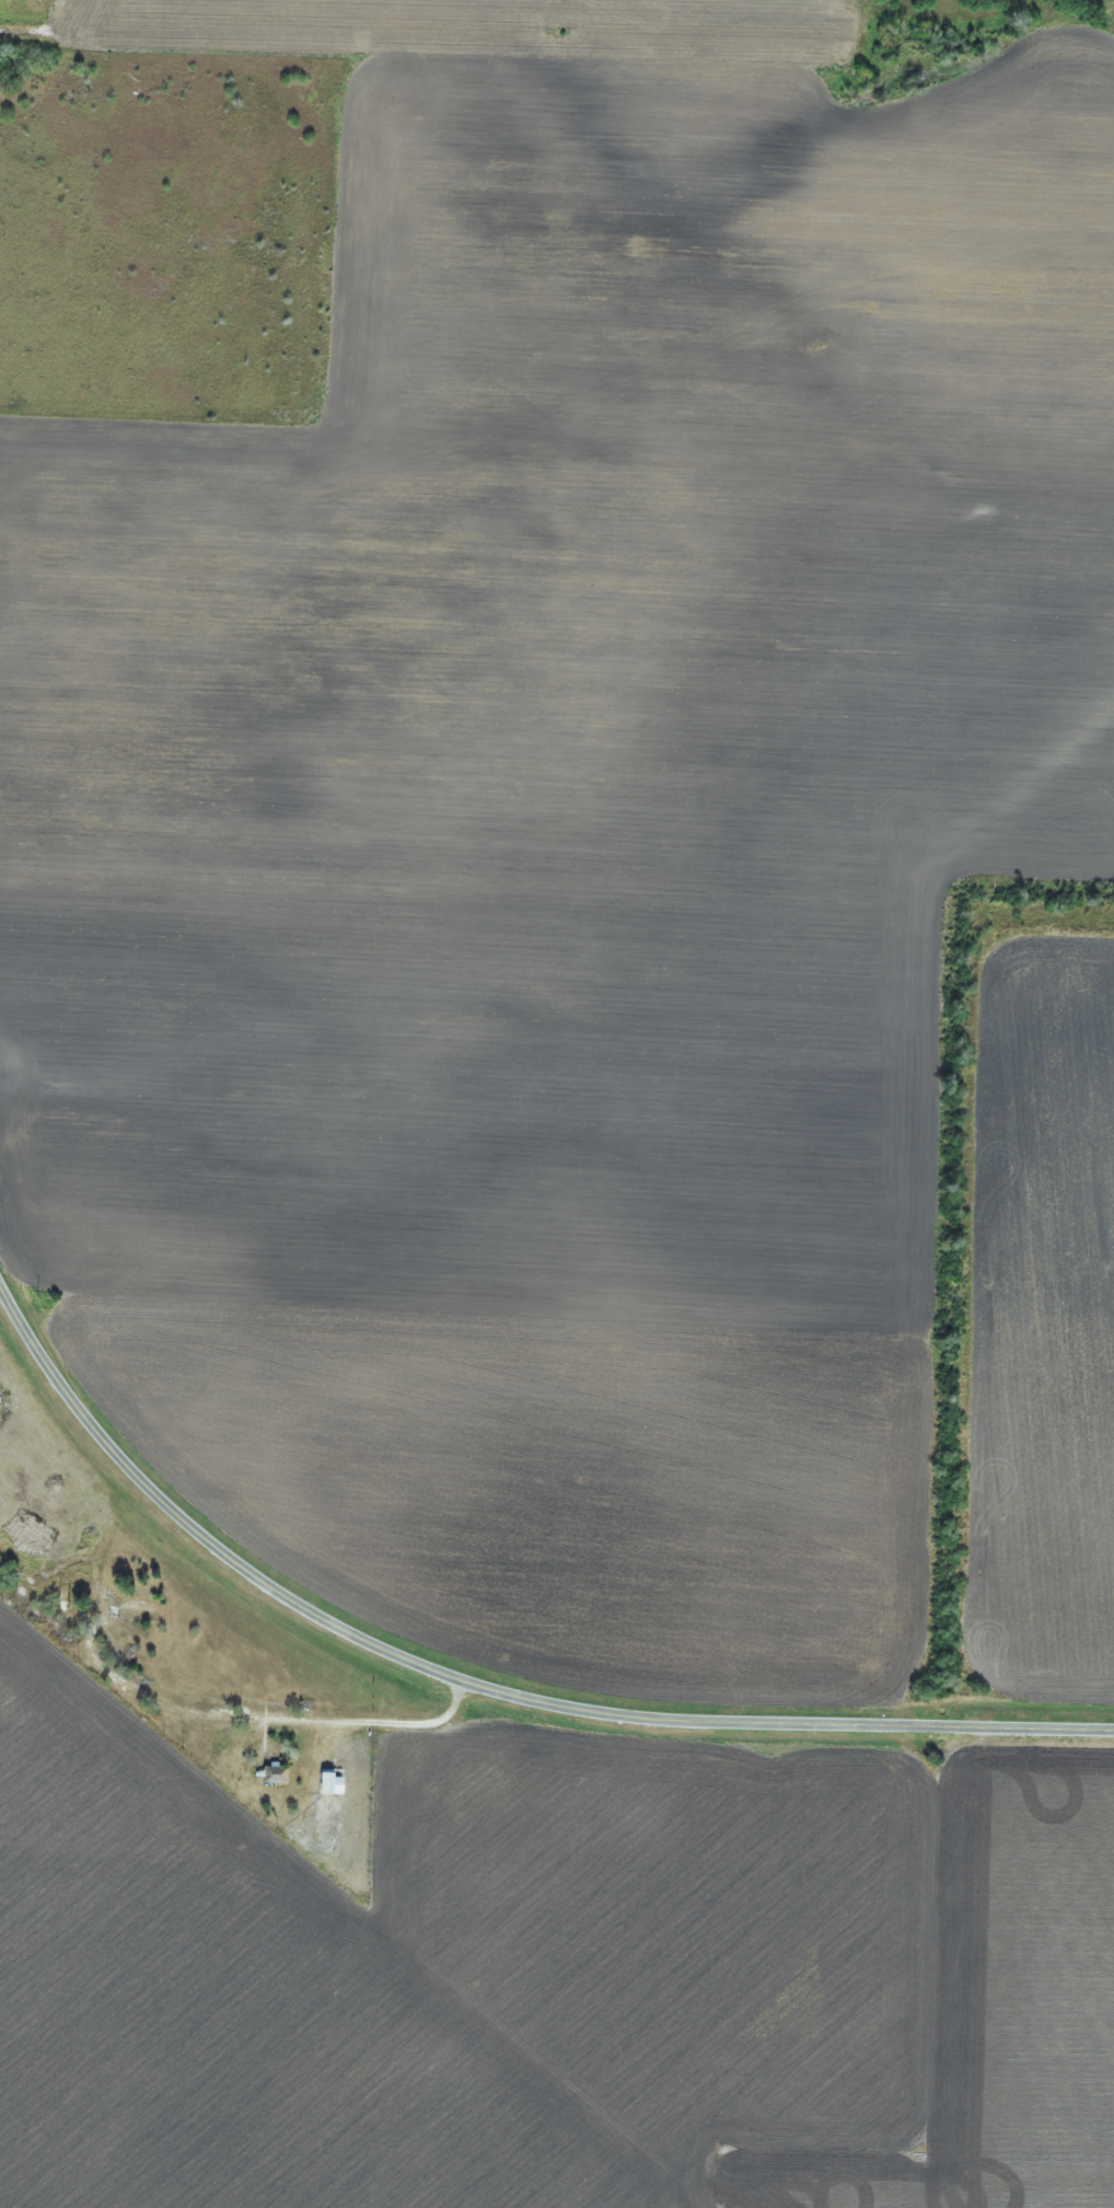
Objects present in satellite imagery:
building: (129, 1608)
road: (478, 1686)
road: (253, 1716)
building: (270, 1772)

